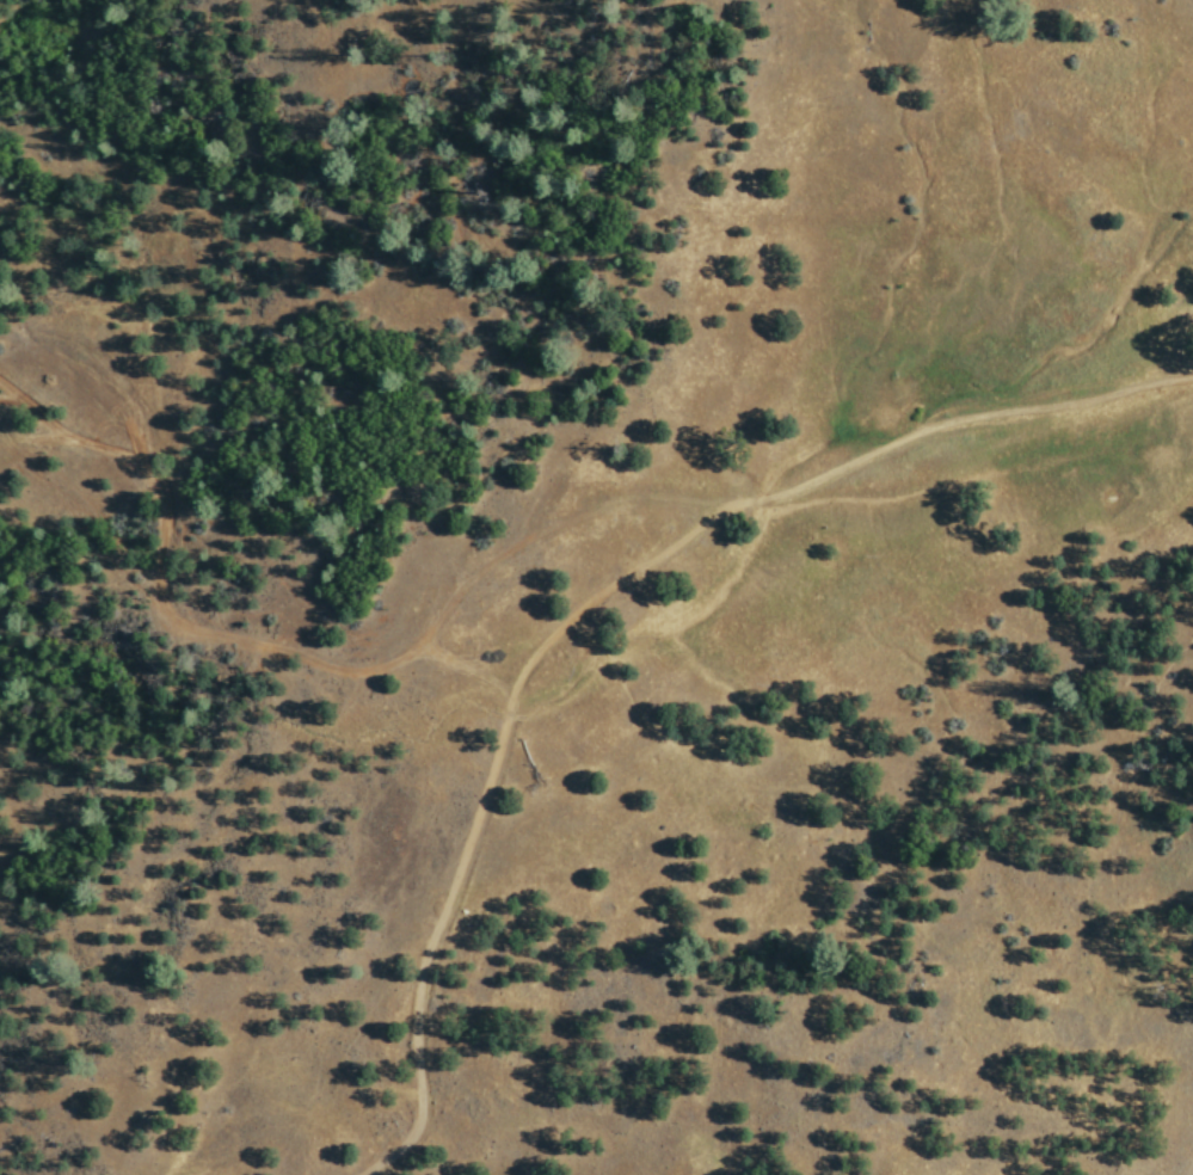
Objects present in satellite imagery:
road: (953, 419)
road: (301, 660)
road: (478, 802)

